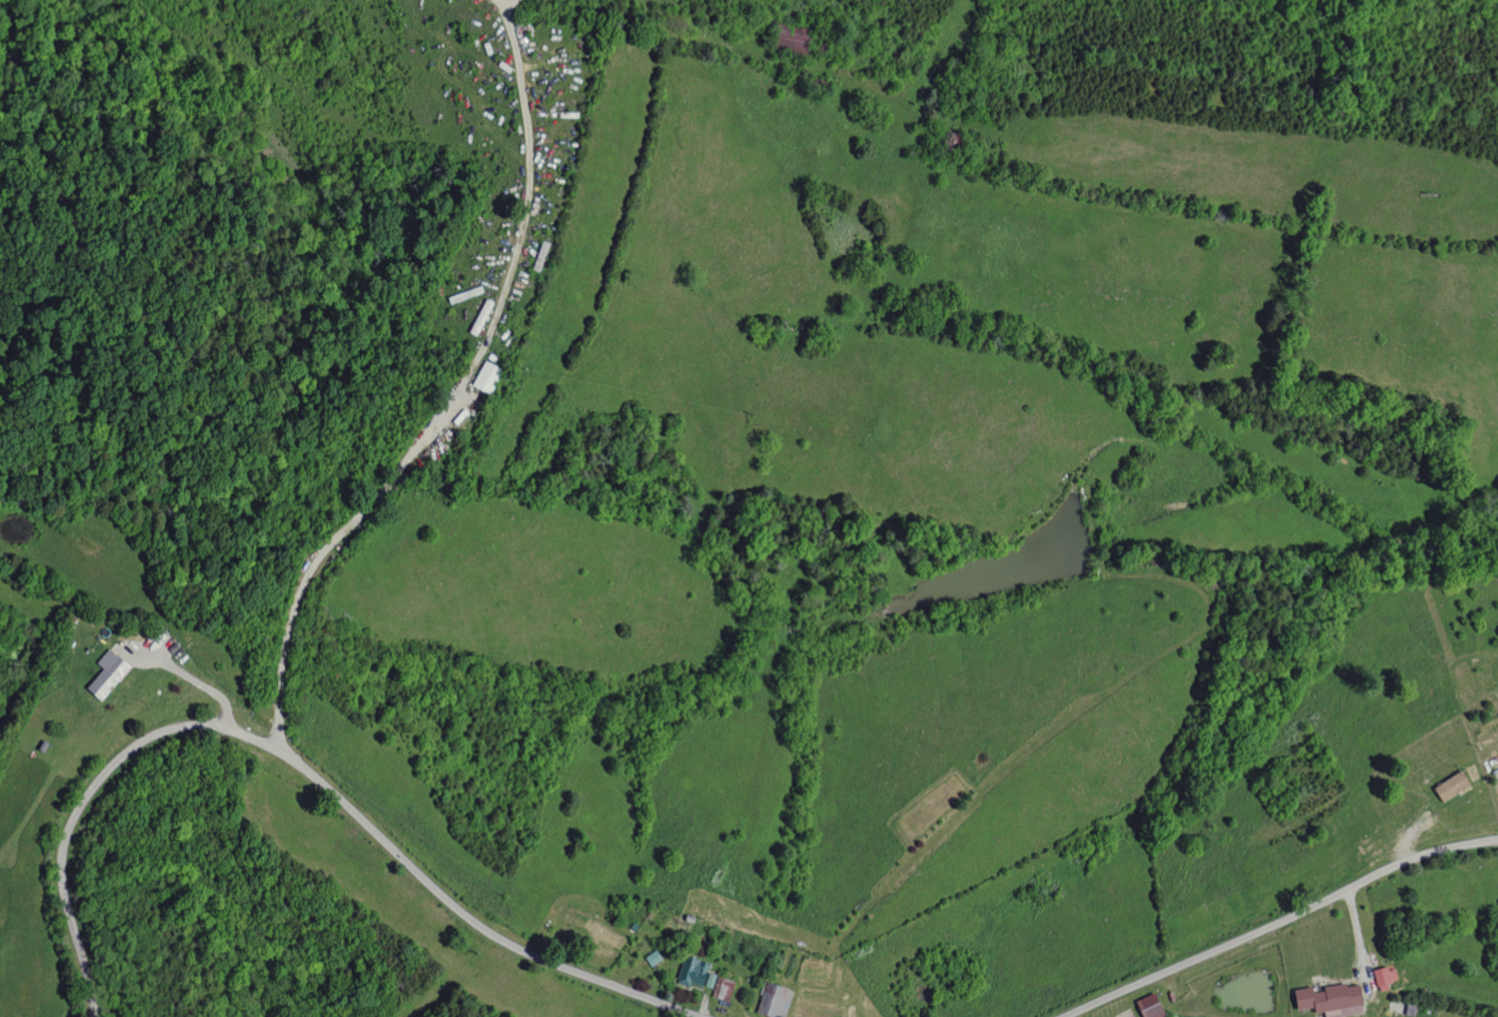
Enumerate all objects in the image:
road: (454, 394)
building: (112, 677)
road: (192, 678)
road: (300, 767)
building: (1447, 787)
road: (1273, 924)
building: (651, 958)
building: (690, 972)
building: (1381, 978)
building: (716, 987)
building: (1326, 1000)
building: (771, 1001)
building: (1145, 1007)

